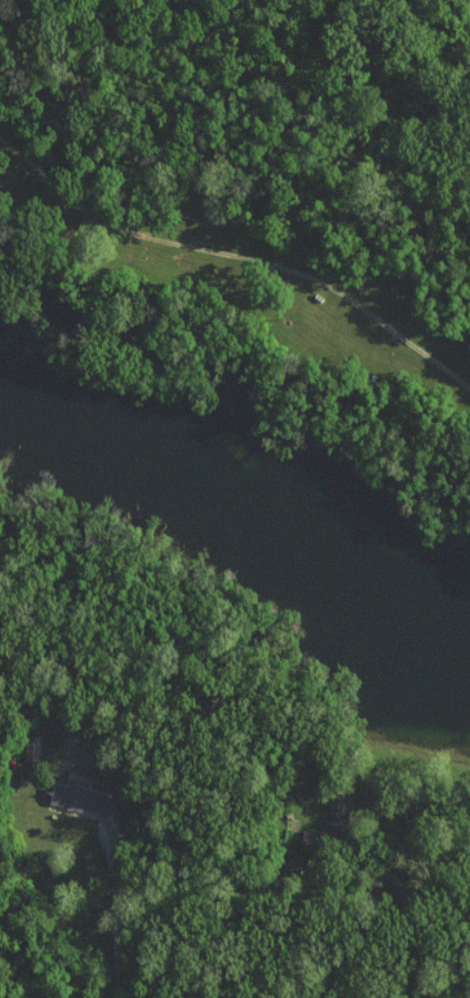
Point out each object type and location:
road: (236, 258)
building: (31, 745)
building: (80, 797)
building: (338, 809)
road: (117, 912)

